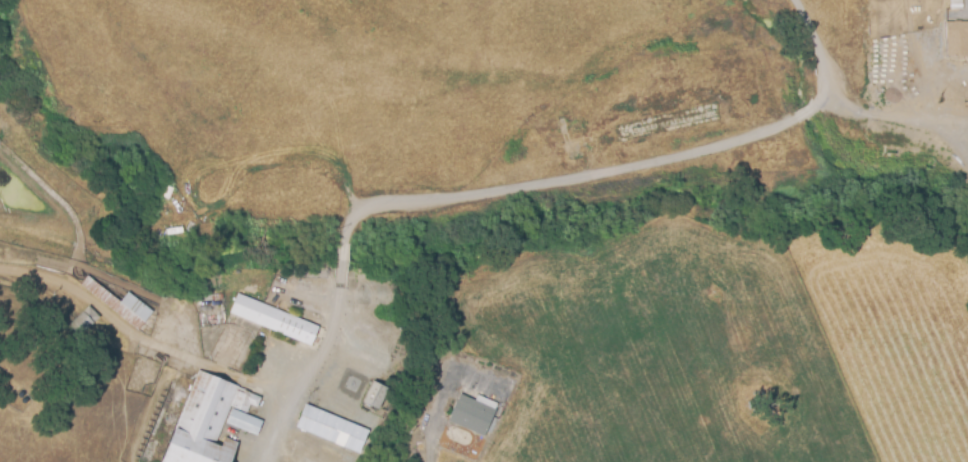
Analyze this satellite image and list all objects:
road: (816, 32)
building: (957, 38)
road: (889, 118)
road: (599, 185)
building: (83, 320)
building: (273, 320)
road: (140, 339)
road: (319, 355)
building: (375, 396)
building: (472, 414)
building: (210, 420)
building: (331, 429)
road: (428, 442)

